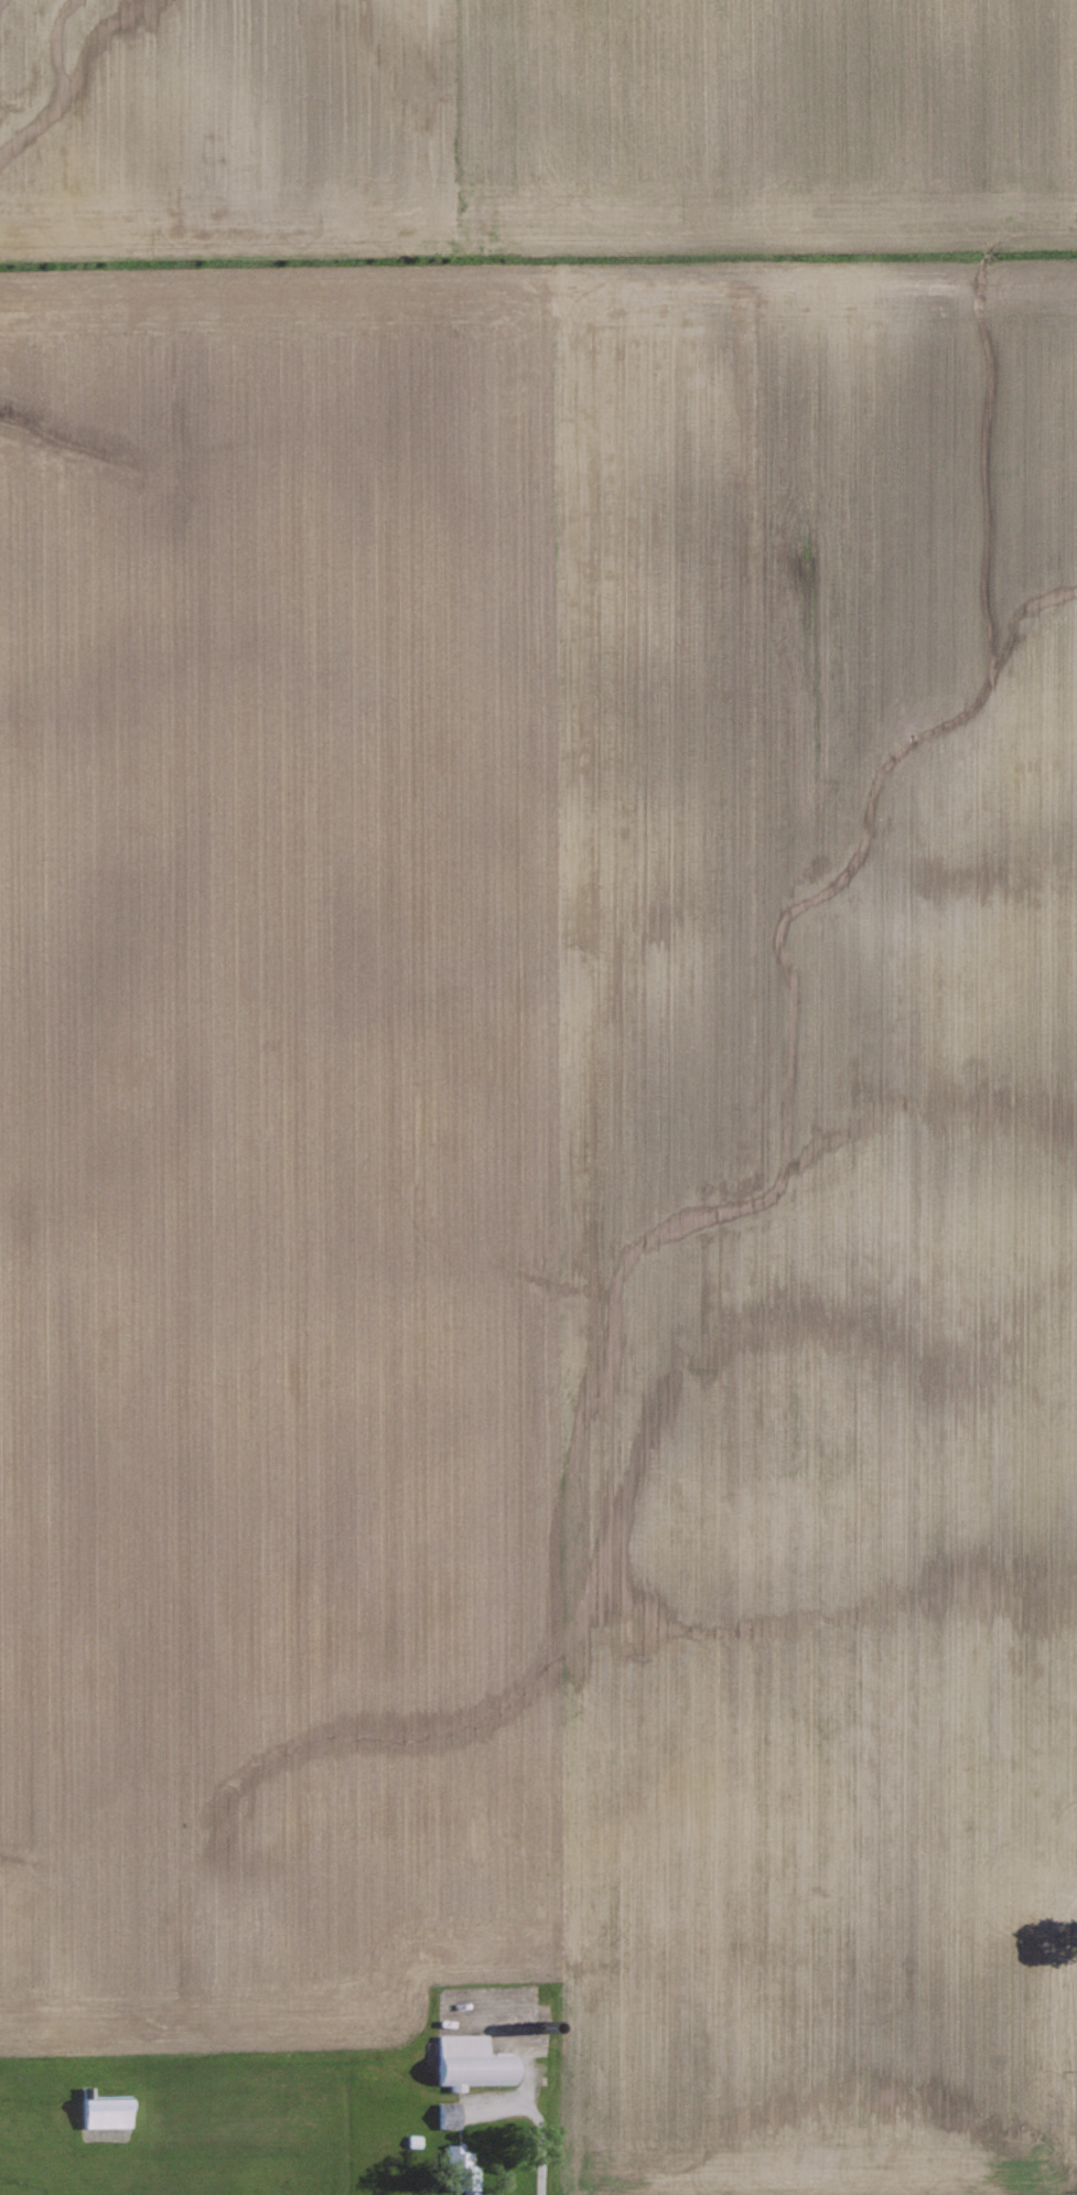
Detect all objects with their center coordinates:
crop: (547, 1059)

